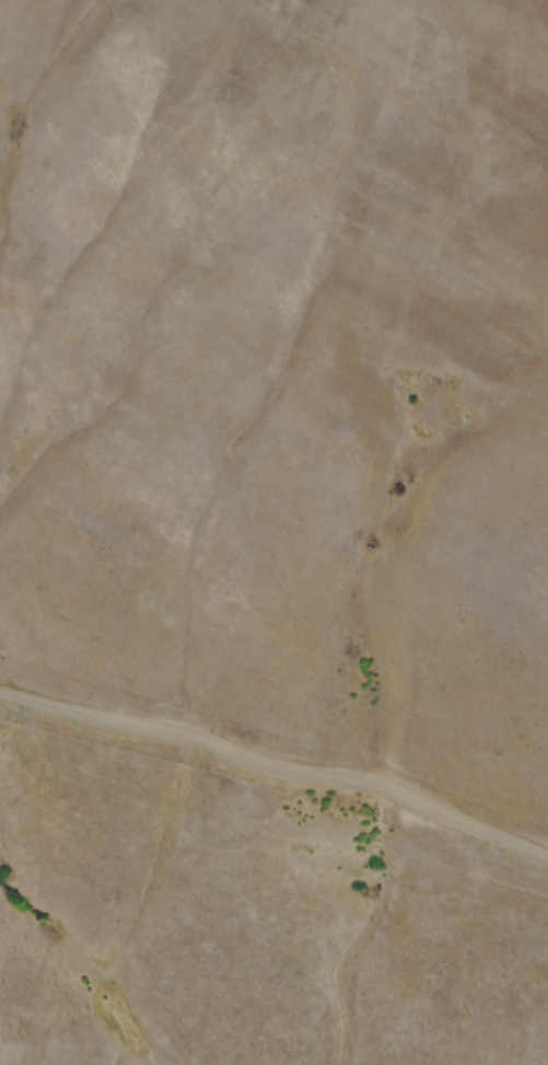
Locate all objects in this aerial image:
road: (278, 762)

